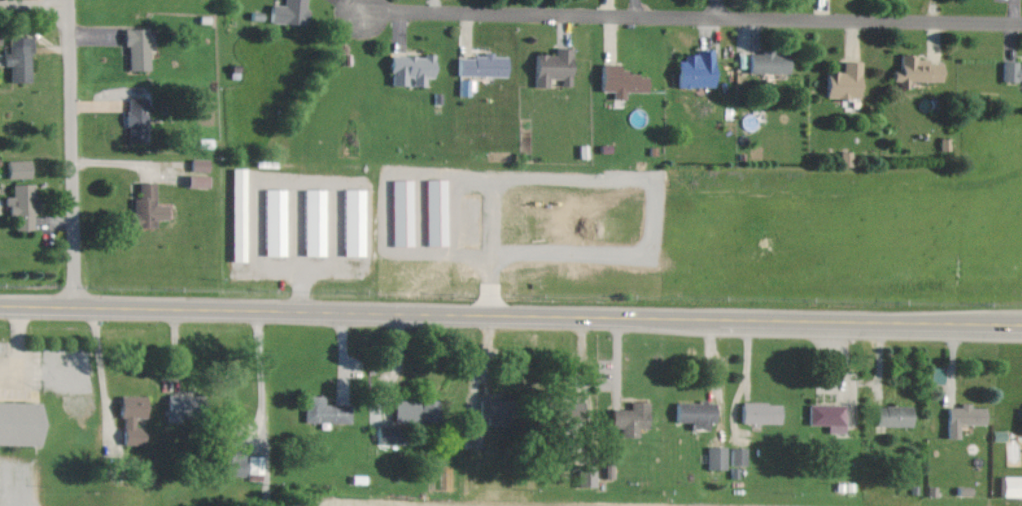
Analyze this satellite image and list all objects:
road: (717, 7)
road: (36, 9)
building: (286, 12)
road: (691, 13)
building: (134, 47)
building: (16, 58)
building: (765, 62)
building: (480, 65)
building: (550, 67)
building: (409, 68)
building: (692, 70)
building: (913, 70)
building: (617, 81)
building: (841, 81)
building: (463, 87)
building: (134, 120)
building: (942, 144)
road: (72, 153)
building: (842, 158)
building: (196, 164)
building: (14, 168)
building: (192, 180)
building: (19, 205)
building: (142, 207)
building: (399, 212)
building: (434, 212)
building: (235, 214)
building: (272, 222)
building: (311, 222)
building: (350, 222)
road: (489, 249)
road: (876, 262)
road: (299, 289)
road: (511, 317)
road: (19, 350)
building: (173, 405)
building: (322, 410)
building: (565, 410)
building: (413, 411)
building: (488, 411)
building: (756, 412)
building: (692, 413)
building: (825, 416)
building: (889, 416)
building: (627, 418)
building: (960, 418)
building: (128, 419)
building: (1019, 421)
building: (17, 423)
building: (384, 434)
building: (470, 439)
building: (736, 456)
building: (714, 457)
building: (229, 463)
building: (253, 464)
building: (604, 470)
building: (1010, 486)

